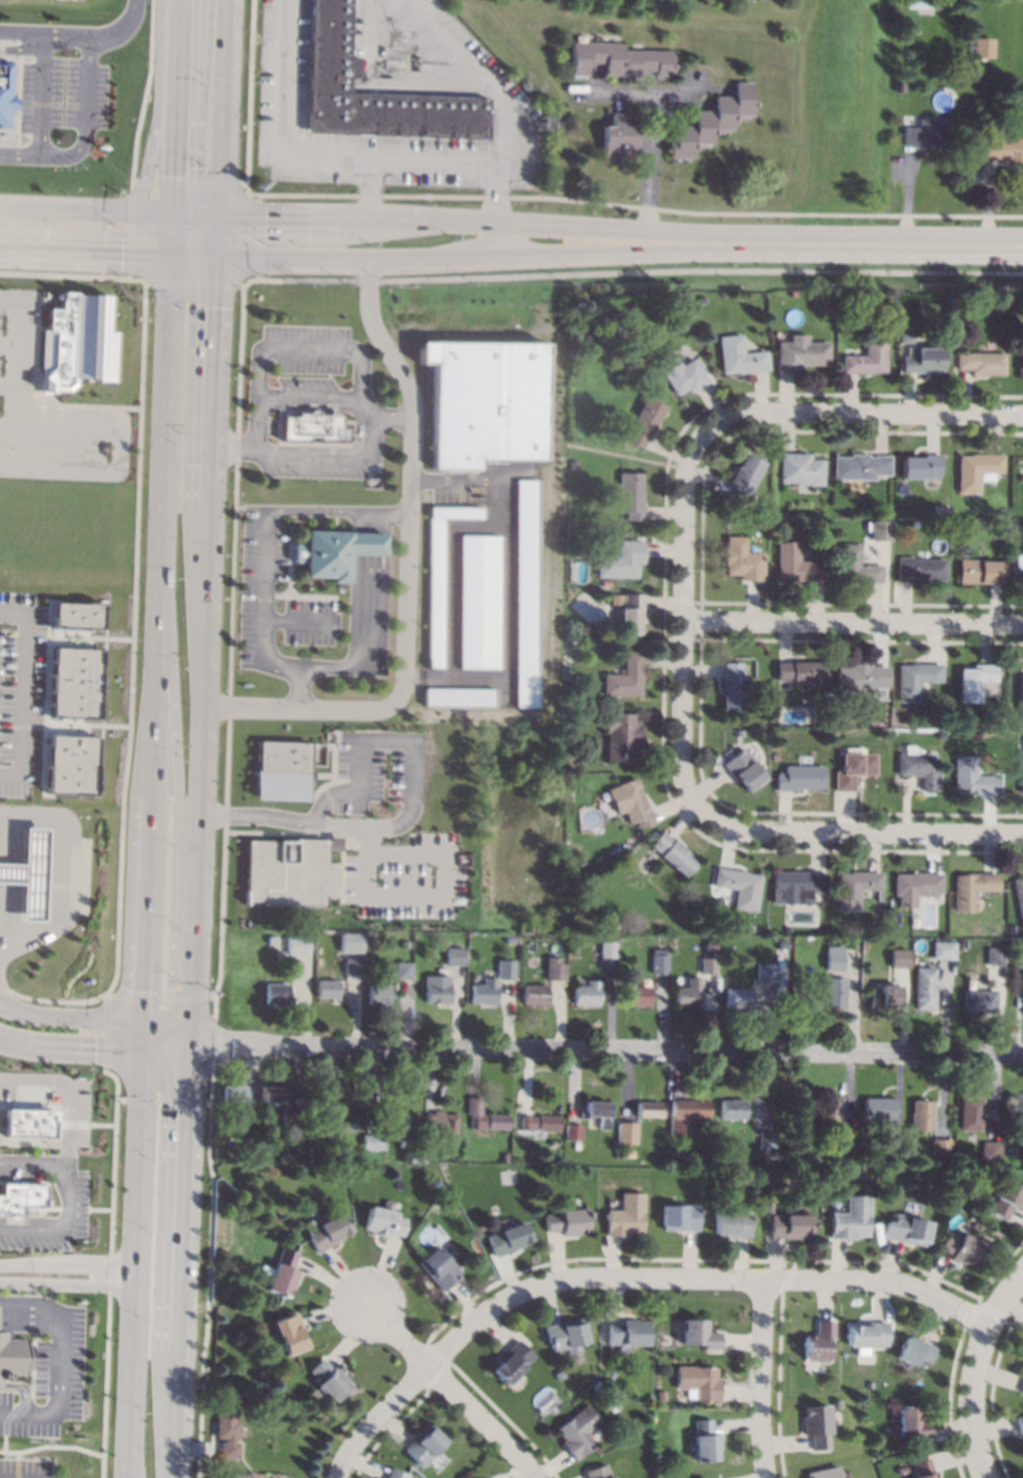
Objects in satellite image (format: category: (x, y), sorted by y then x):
parking lot: (70, 0)
building: (918, 4)
road: (79, 40)
building: (981, 47)
road: (21, 50)
building: (619, 58)
building: (334, 66)
road: (88, 85)
building: (897, 86)
parking lot: (493, 90)
building: (5, 94)
parking lot: (63, 96)
road: (39, 97)
road: (176, 107)
road: (221, 108)
road: (156, 112)
building: (711, 119)
building: (927, 132)
building: (619, 136)
road: (650, 140)
building: (1001, 148)
road: (50, 156)
road: (412, 160)
traffic signals: (175, 173)
road: (369, 189)
road: (500, 209)
road: (87, 211)
road: (195, 215)
traffic signals: (264, 217)
road: (483, 223)
road: (173, 235)
road: (216, 236)
road: (886, 245)
road: (85, 251)
traffic signals: (121, 253)
road: (193, 256)
road: (482, 256)
road: (628, 272)
road: (72, 276)
road: (190, 282)
building: (791, 294)
building: (674, 298)
building: (703, 300)
building: (1005, 305)
traffic signals: (213, 307)
building: (956, 318)
building: (852, 334)
building: (905, 338)
building: (74, 343)
road: (6, 344)
road: (287, 347)
building: (799, 354)
building: (1022, 355)
road: (11, 357)
building: (739, 357)
building: (867, 357)
road: (34, 359)
parking lot: (304, 359)
building: (921, 360)
building: (980, 363)
building: (681, 374)
road: (210, 382)
road: (5, 384)
road: (309, 393)
road: (21, 394)
building: (483, 401)
road: (84, 405)
road: (865, 410)
parking lot: (49, 414)
road: (38, 416)
road: (57, 417)
road: (165, 419)
building: (645, 422)
building: (315, 427)
road: (359, 429)
road: (118, 450)
road: (627, 457)
road: (334, 459)
building: (573, 465)
building: (861, 467)
building: (921, 467)
parking lot: (314, 468)
building: (800, 469)
building: (976, 471)
building: (743, 478)
building: (631, 496)
road: (316, 510)
building: (939, 510)
road: (386, 514)
road: (364, 522)
building: (761, 525)
building: (879, 531)
road: (363, 543)
road: (503, 544)
building: (335, 552)
building: (920, 554)
road: (205, 557)
building: (621, 560)
building: (742, 560)
building: (1019, 563)
building: (796, 564)
building: (856, 566)
building: (920, 570)
building: (980, 570)
road: (406, 573)
road: (448, 575)
building: (437, 577)
parking lot: (258, 590)
building: (569, 591)
building: (524, 593)
building: (616, 599)
building: (477, 601)
road: (264, 602)
road: (362, 610)
building: (631, 615)
building: (75, 616)
road: (681, 619)
road: (300, 621)
road: (852, 622)
road: (382, 627)
building: (582, 628)
road: (34, 634)
road: (89, 637)
road: (132, 638)
road: (45, 663)
building: (801, 672)
building: (626, 677)
building: (862, 677)
road: (453, 678)
building: (916, 679)
building: (975, 681)
building: (73, 683)
building: (733, 686)
road: (299, 687)
road: (156, 688)
parking lot: (19, 691)
road: (20, 692)
building: (457, 697)
building: (1021, 697)
building: (574, 722)
building: (999, 722)
road: (21, 725)
road: (86, 725)
building: (623, 736)
road: (386, 738)
road: (41, 760)
building: (69, 765)
building: (920, 767)
road: (29, 769)
building: (854, 769)
building: (743, 770)
building: (281, 771)
building: (1022, 773)
building: (974, 777)
building: (800, 778)
road: (176, 803)
building: (631, 803)
road: (198, 814)
road: (862, 833)
building: (332, 843)
building: (674, 854)
building: (287, 872)
road: (55, 873)
building: (27, 874)
road: (367, 874)
building: (740, 886)
building: (916, 886)
building: (796, 887)
building: (856, 887)
building: (972, 889)
building: (879, 895)
building: (1019, 896)
road: (147, 907)
building: (615, 926)
building: (748, 928)
building: (786, 929)
building: (1013, 930)
building: (511, 939)
building: (562, 939)
building: (272, 940)
building: (352, 942)
building: (298, 945)
building: (608, 949)
building: (944, 950)
building: (1016, 954)
building: (995, 955)
building: (455, 956)
building: (833, 958)
building: (899, 958)
building: (660, 965)
building: (353, 966)
building: (708, 966)
building: (506, 969)
building: (556, 969)
building: (403, 970)
building: (766, 972)
building: (438, 988)
building: (924, 988)
traffic signals: (145, 989)
traffic signals: (170, 989)
building: (328, 989)
building: (484, 992)
building: (587, 993)
building: (834, 993)
building: (276, 994)
building: (380, 994)
building: (688, 994)
road: (107, 995)
road: (211, 995)
building: (535, 995)
building: (636, 996)
road: (159, 997)
building: (737, 997)
building: (885, 997)
road: (54, 1000)
building: (979, 1001)
road: (213, 1008)
road: (71, 1017)
road: (157, 1022)
road: (179, 1023)
road: (105, 1034)
road: (200, 1034)
road: (143, 1036)
road: (187, 1038)
road: (175, 1039)
traffic signals: (218, 1044)
road: (617, 1044)
road: (211, 1045)
road: (70, 1047)
road: (199, 1048)
traffic signals: (95, 1049)
road: (165, 1051)
road: (61, 1084)
road: (210, 1086)
building: (233, 1093)
building: (273, 1094)
road: (120, 1099)
road: (164, 1100)
road: (207, 1102)
traffic signals: (184, 1107)
building: (878, 1108)
building: (648, 1109)
building: (732, 1109)
building: (248, 1112)
building: (598, 1112)
parking lot: (78, 1113)
building: (687, 1113)
building: (830, 1113)
building: (970, 1114)
building: (921, 1115)
building: (289, 1116)
building: (486, 1116)
building: (1021, 1116)
building: (302, 1117)
building: (340, 1120)
building: (399, 1121)
building: (541, 1122)
building: (26, 1123)
road: (91, 1124)
building: (443, 1125)
building: (798, 1125)
building: (574, 1132)
building: (627, 1133)
building: (768, 1140)
building: (374, 1141)
road: (33, 1142)
building: (844, 1143)
building: (940, 1147)
building: (894, 1150)
building: (1022, 1150)
building: (990, 1151)
road: (67, 1153)
building: (629, 1153)
building: (420, 1154)
road: (112, 1156)
building: (330, 1156)
building: (506, 1158)
building: (961, 1159)
building: (788, 1160)
building: (336, 1178)
road: (65, 1195)
building: (1008, 1198)
building: (21, 1199)
road: (181, 1202)
road: (88, 1209)
building: (431, 1215)
building: (626, 1216)
building: (679, 1218)
building: (851, 1219)
road: (32, 1220)
building: (384, 1222)
building: (569, 1222)
building: (732, 1224)
building: (789, 1226)
building: (906, 1231)
building: (330, 1232)
building: (509, 1238)
building: (962, 1248)
road: (68, 1263)
road: (137, 1264)
building: (439, 1268)
road: (109, 1272)
building: (284, 1273)
road: (700, 1279)
road: (68, 1283)
road: (47, 1303)
road: (30, 1324)
building: (628, 1332)
building: (292, 1334)
road: (399, 1334)
building: (700, 1334)
building: (566, 1336)
building: (867, 1337)
building: (818, 1341)
building: (915, 1351)
building: (12, 1355)
building: (513, 1362)
building: (1022, 1364)
building: (1021, 1372)
building: (264, 1374)
building: (560, 1375)
building: (611, 1375)
road: (978, 1375)
road: (762, 1378)
building: (330, 1380)
building: (699, 1382)
parking lot: (49, 1383)
road: (105, 1385)
building: (871, 1385)
building: (598, 1386)
building: (1022, 1388)
building: (257, 1390)
road: (28, 1391)
building: (662, 1396)
building: (836, 1404)
road: (59, 1407)
road: (176, 1415)
road: (377, 1417)
road: (484, 1419)
building: (912, 1423)
building: (1020, 1424)
building: (817, 1426)
building: (228, 1431)
building: (578, 1431)
building: (705, 1441)
road: (51, 1445)
building: (425, 1446)
road: (16, 1464)
road: (132, 1464)
parking lot: (25, 1468)
building: (924, 1469)
building: (902, 1470)
building: (600, 1473)
building: (824, 1473)
building: (397, 1474)
building: (241, 1476)
building: (673, 1476)

